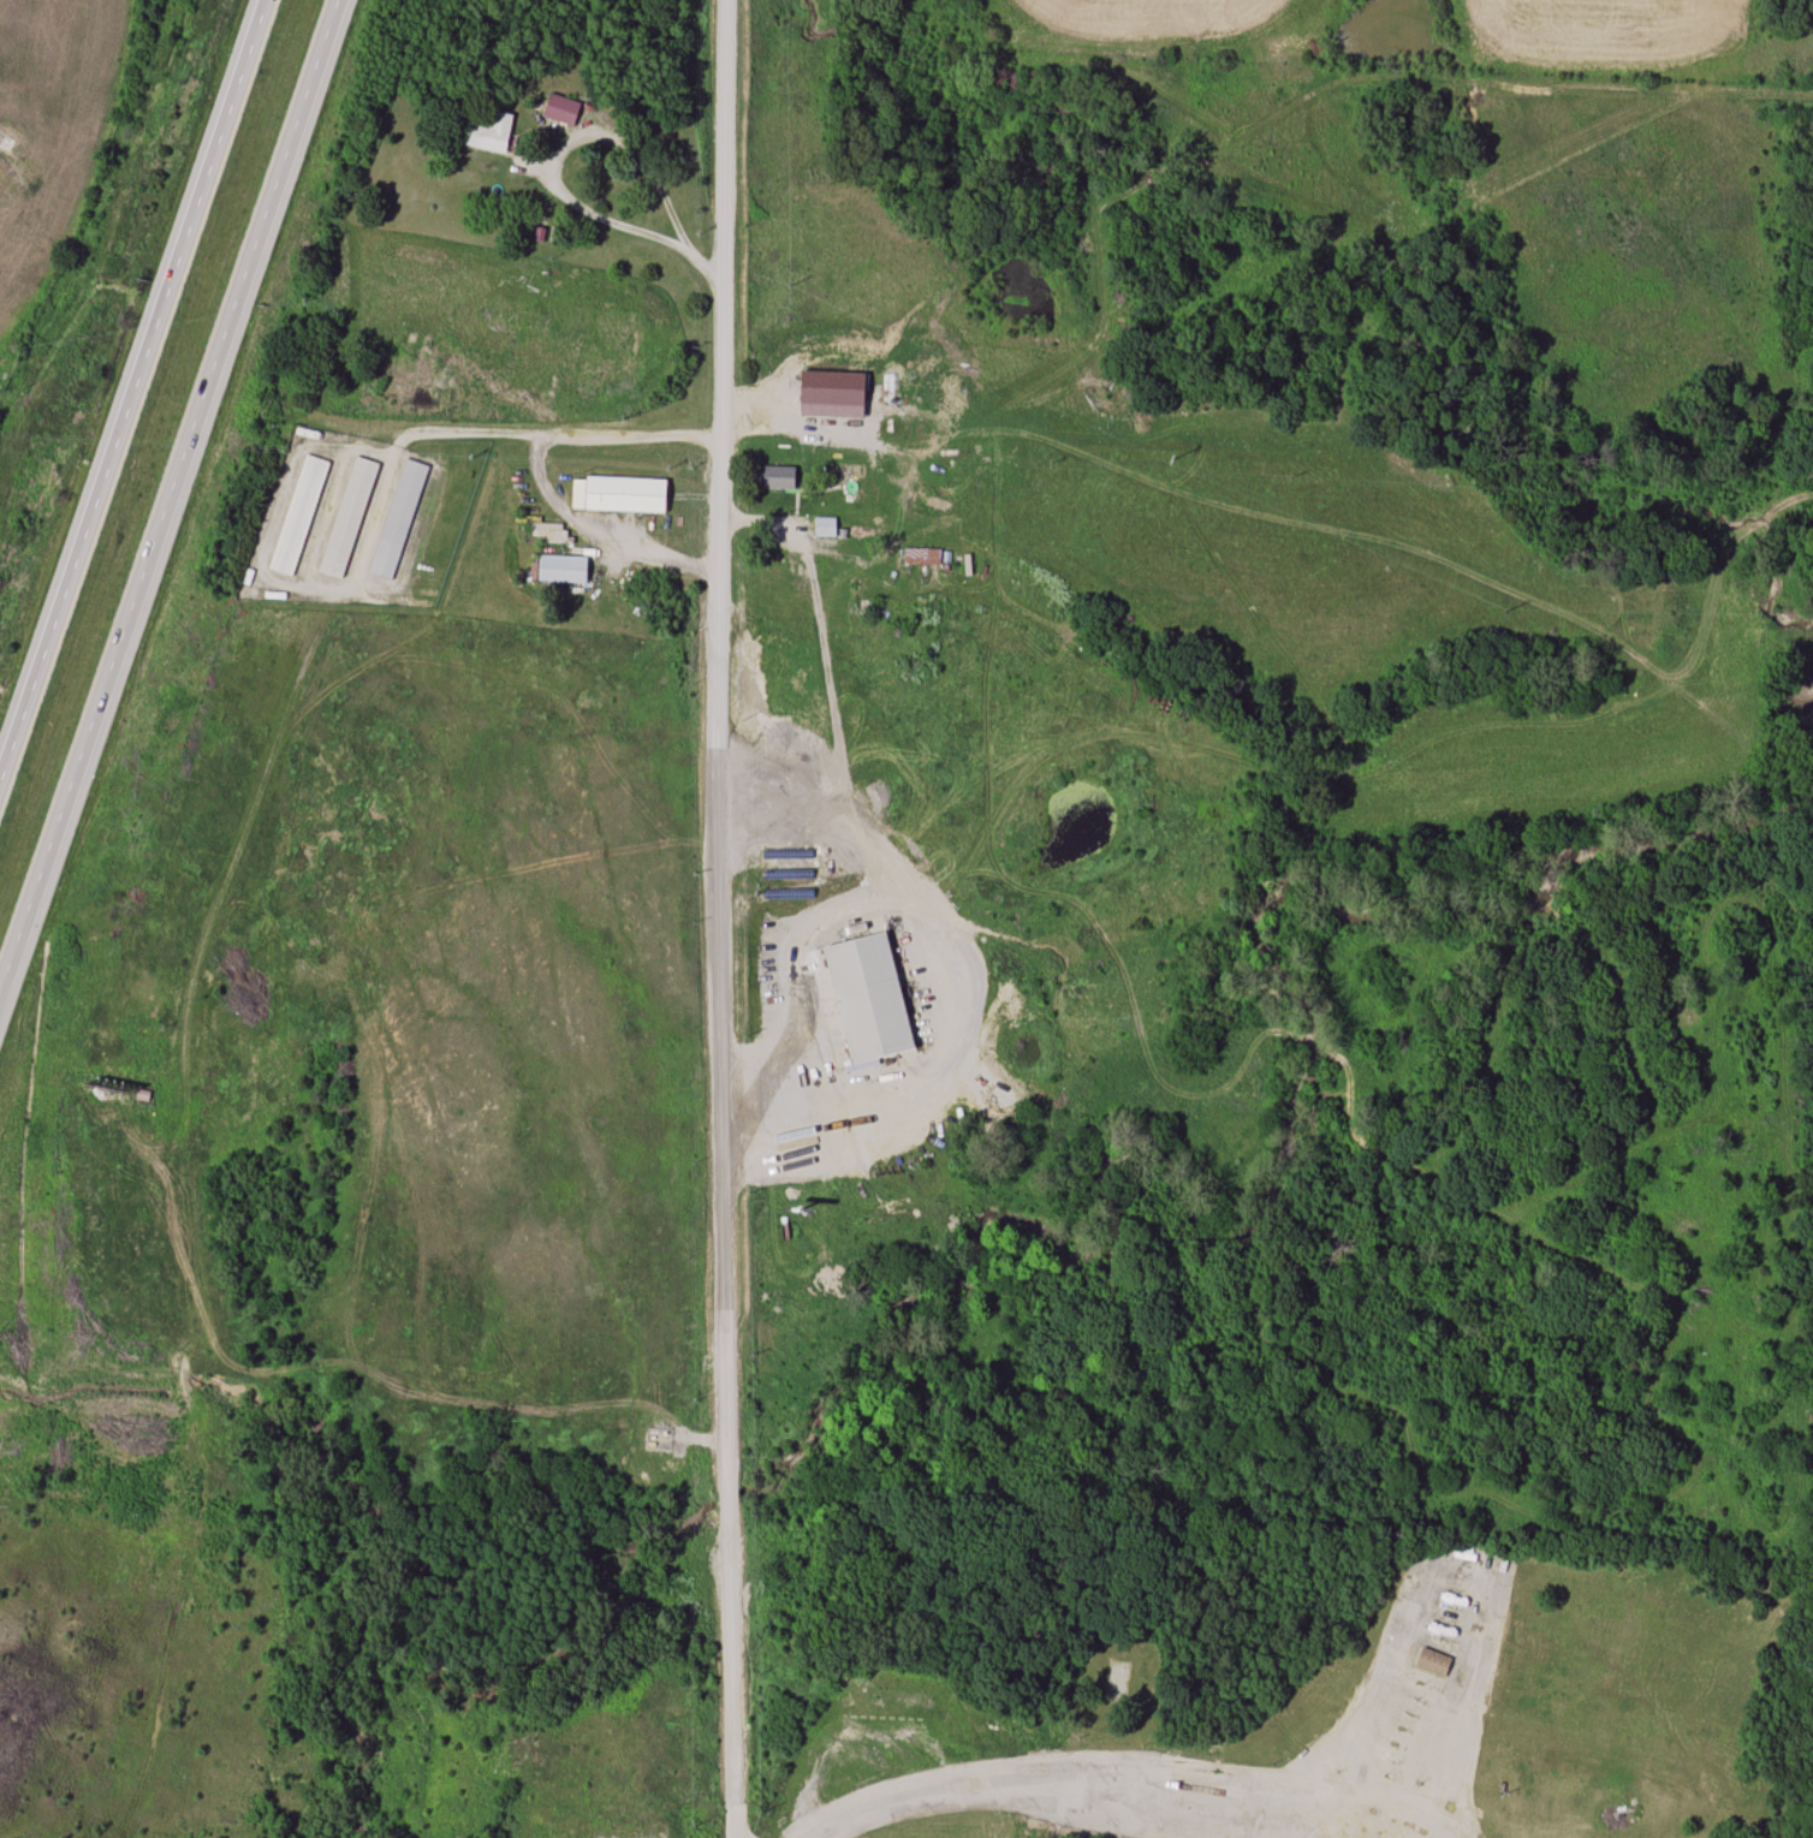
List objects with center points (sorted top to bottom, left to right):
building: (560, 109)
building: (487, 133)
road: (634, 149)
road: (703, 266)
road: (131, 388)
road: (531, 466)
building: (777, 477)
road: (171, 490)
building: (619, 494)
building: (297, 514)
building: (346, 517)
building: (397, 518)
building: (825, 527)
building: (546, 534)
building: (561, 569)
building: (891, 576)
road: (718, 918)
road: (946, 995)
building: (869, 998)
road: (1487, 1611)
building: (1432, 1662)
building: (1117, 1681)
road: (1056, 1762)

